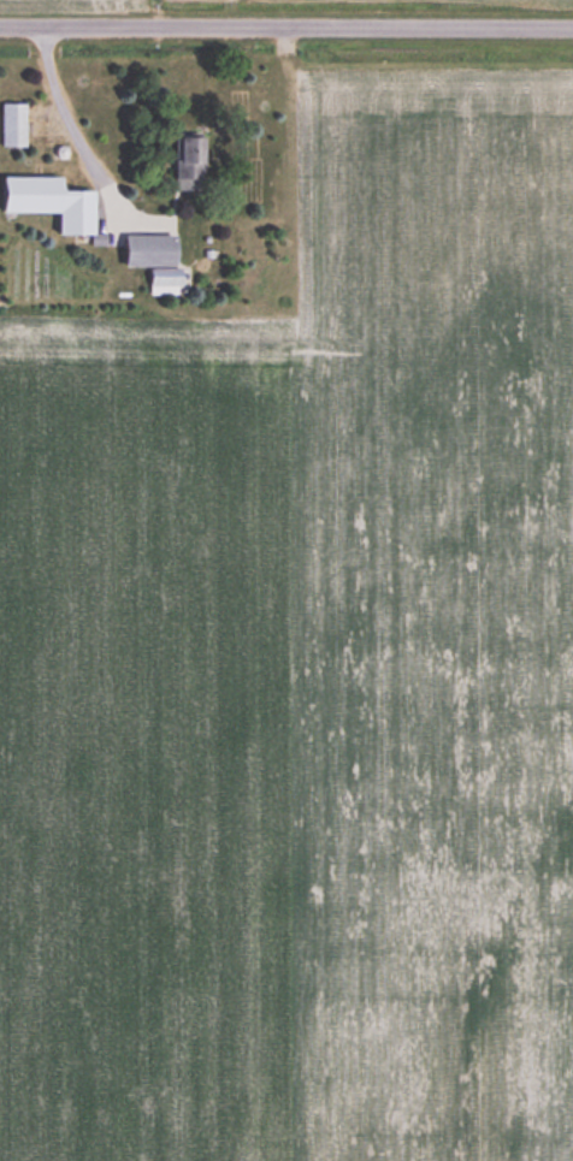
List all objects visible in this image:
road: (286, 24)
building: (12, 124)
road: (70, 124)
building: (184, 162)
building: (47, 202)
building: (150, 260)

